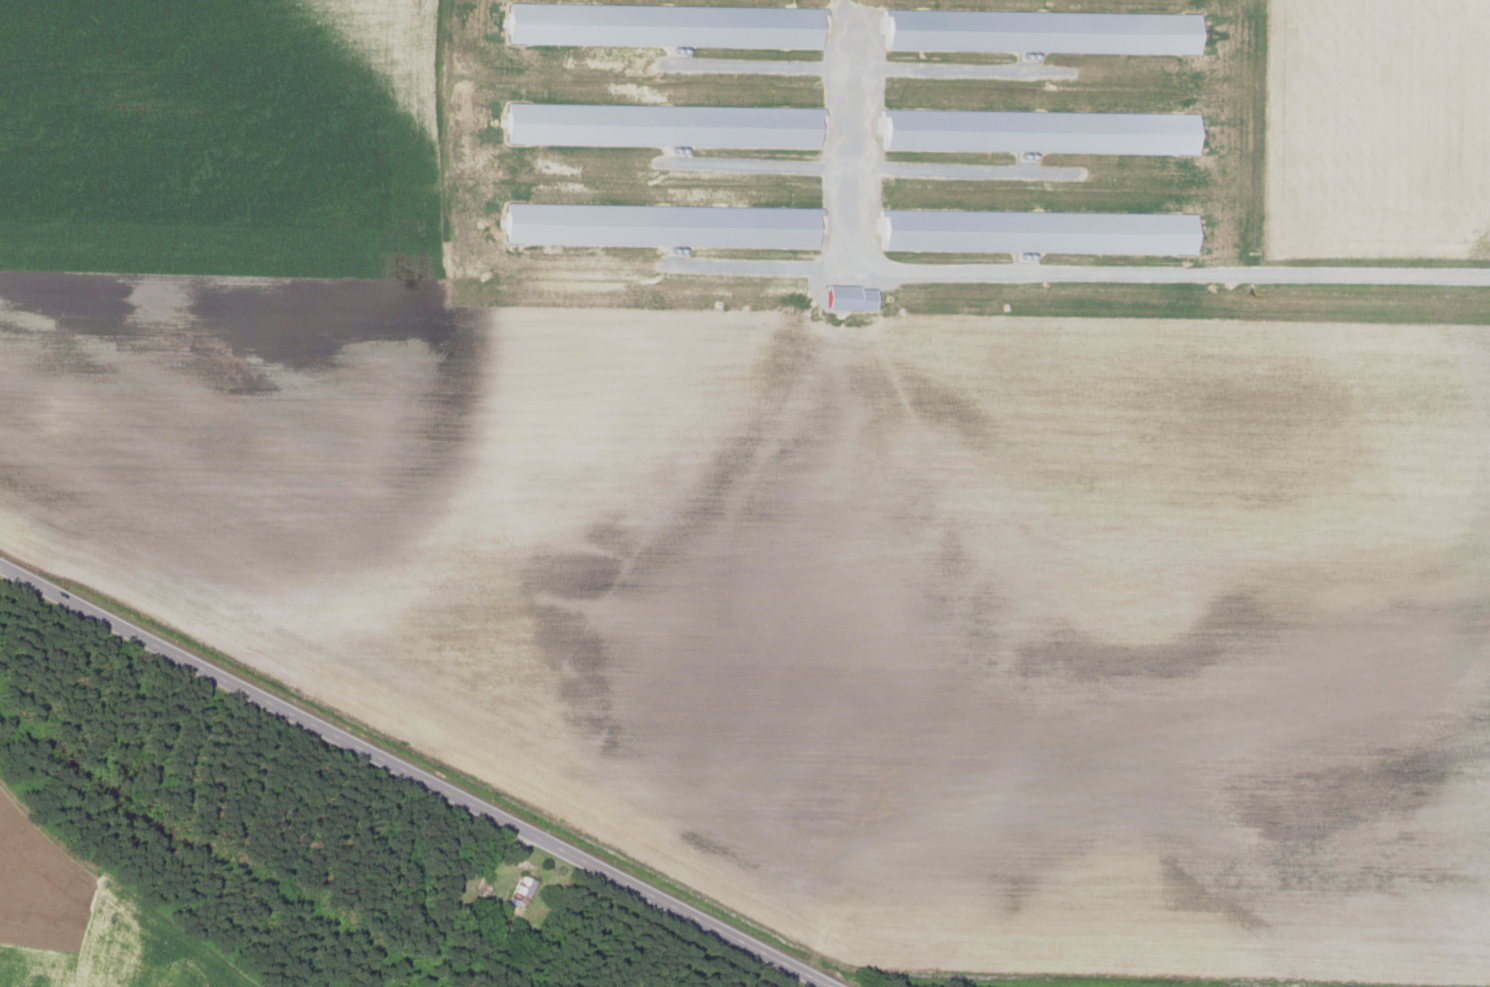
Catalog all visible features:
building: (1041, 31)
building: (662, 126)
building: (1038, 132)
building: (660, 225)
building: (849, 298)
road: (414, 775)
building: (520, 889)

